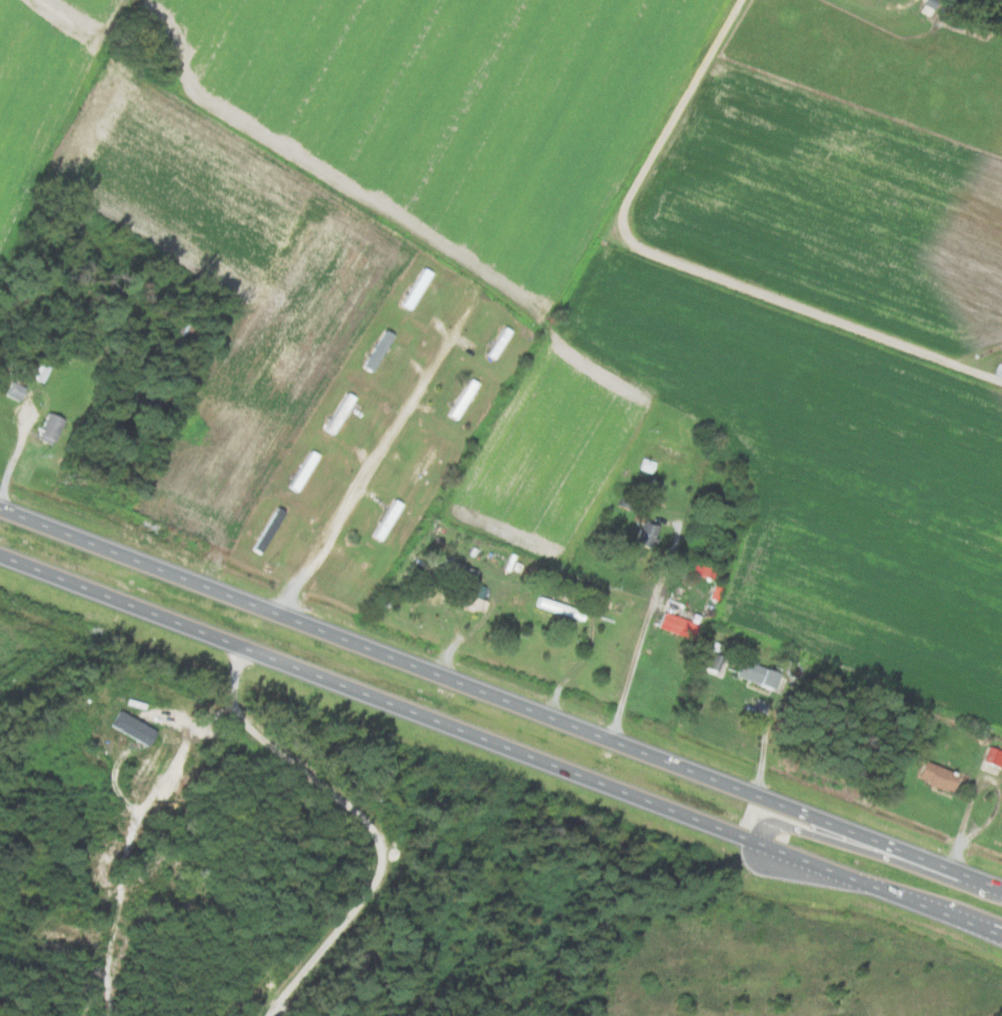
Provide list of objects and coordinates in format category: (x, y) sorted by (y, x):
road: (682, 266)
building: (413, 287)
building: (375, 349)
building: (1000, 370)
building: (37, 371)
building: (12, 390)
building: (336, 412)
building: (48, 427)
road: (397, 440)
building: (300, 470)
road: (656, 590)
building: (715, 658)
building: (760, 676)
road: (500, 698)
road: (501, 744)
building: (935, 777)
road: (872, 852)
road: (973, 917)

